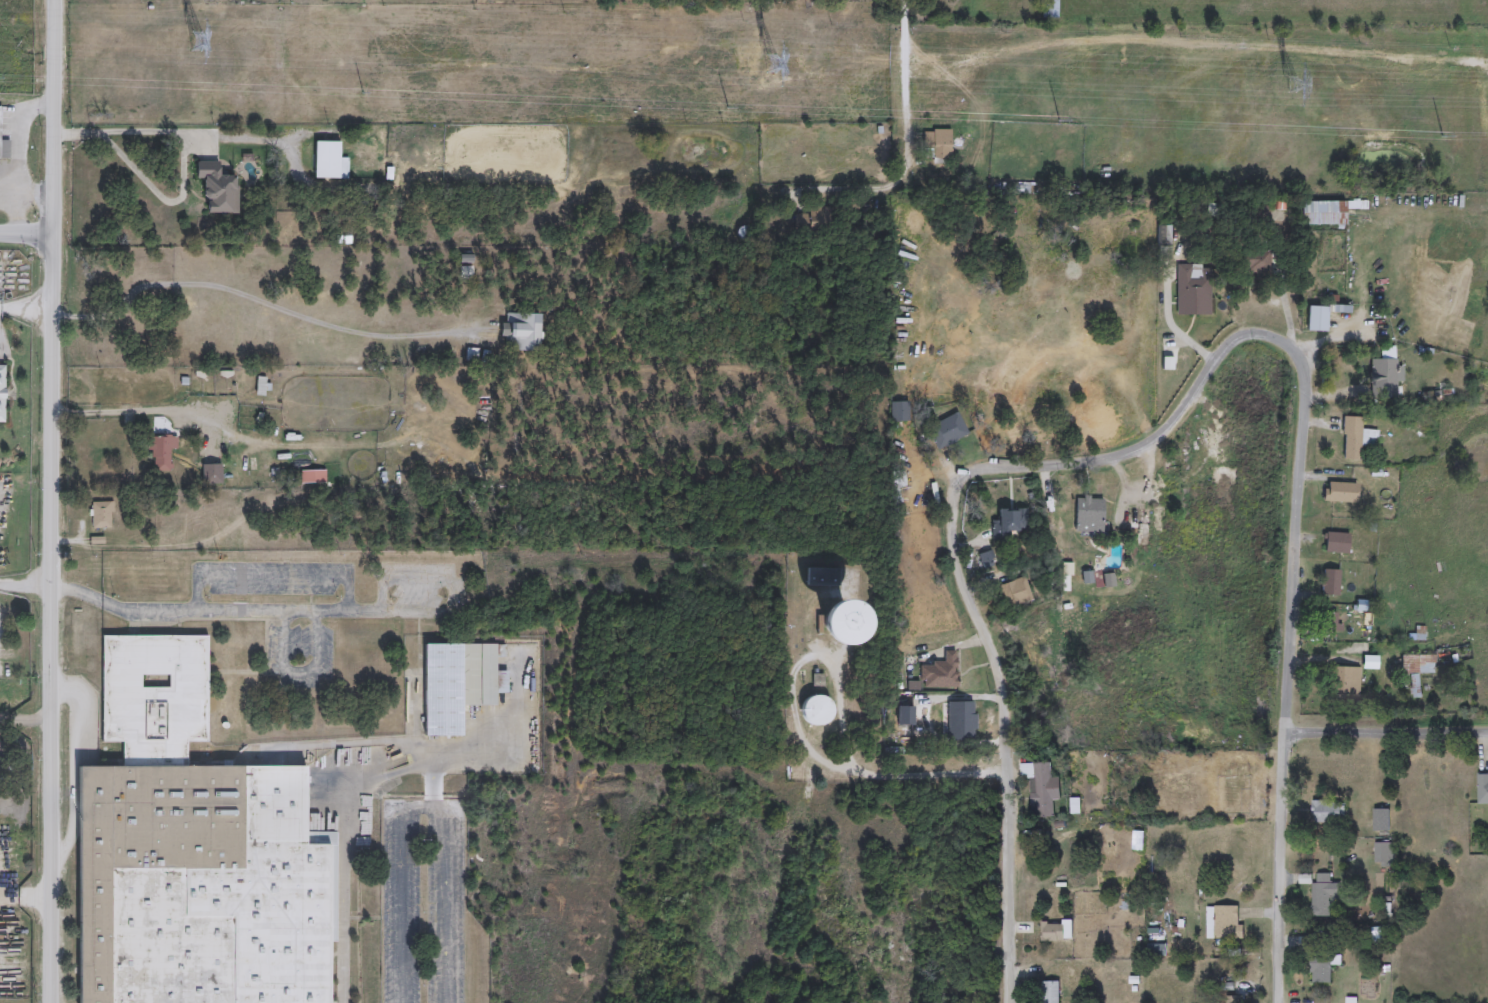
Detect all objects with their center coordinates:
building: (1049, 9)
road: (981, 13)
power tower: (170, 39)
power tower: (745, 62)
power tower: (1290, 84)
road: (174, 132)
road: (906, 134)
building: (936, 144)
building: (326, 159)
road: (28, 161)
building: (1325, 211)
road: (24, 216)
road: (25, 233)
building: (1163, 244)
building: (464, 272)
building: (1194, 283)
road: (256, 303)
road: (24, 307)
building: (1316, 319)
building: (520, 331)
building: (1383, 378)
building: (2, 394)
road: (130, 410)
building: (900, 412)
building: (946, 431)
building: (1351, 438)
road: (1145, 443)
building: (161, 452)
building: (312, 476)
building: (1341, 492)
road: (47, 501)
building: (101, 514)
building: (1089, 515)
building: (1007, 523)
building: (1138, 528)
building: (1336, 542)
building: (820, 576)
road: (273, 577)
building: (1330, 582)
road: (23, 584)
building: (1014, 592)
road: (241, 609)
building: (1328, 621)
building: (1416, 669)
building: (939, 672)
road: (299, 674)
road: (1288, 674)
building: (457, 683)
building: (1344, 685)
building: (816, 710)
road: (795, 713)
building: (967, 733)
road: (1386, 735)
road: (1005, 740)
road: (849, 749)
building: (1173, 761)
road: (431, 783)
building: (1482, 789)
building: (1041, 792)
road: (424, 807)
road: (351, 808)
building: (1326, 812)
building: (1380, 821)
building: (192, 853)
building: (1382, 855)
road: (25, 896)
building: (1322, 896)
building: (1226, 924)
building: (1052, 932)
building: (1322, 967)
building: (1050, 993)
building: (1233, 1000)

